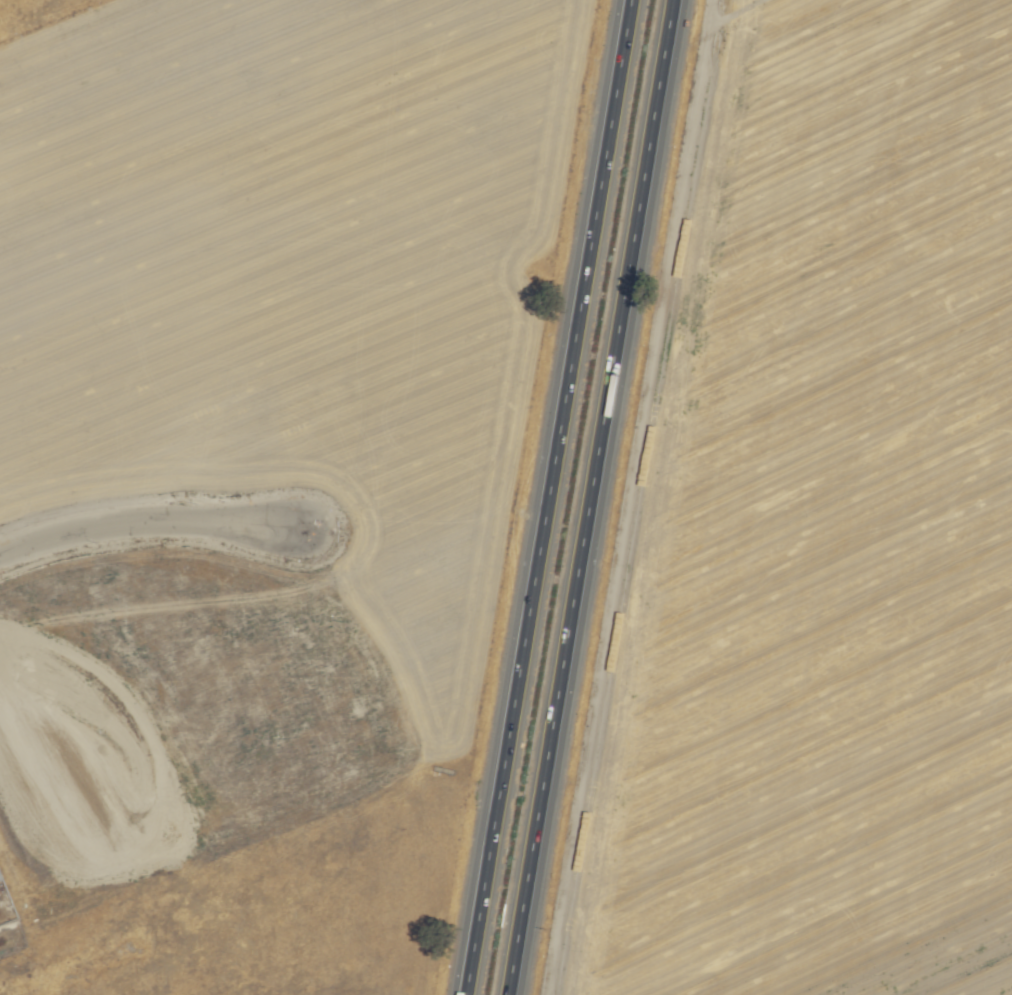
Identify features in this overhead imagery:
road: (546, 497)
road: (590, 497)
road: (147, 522)
crop: (822, 533)

